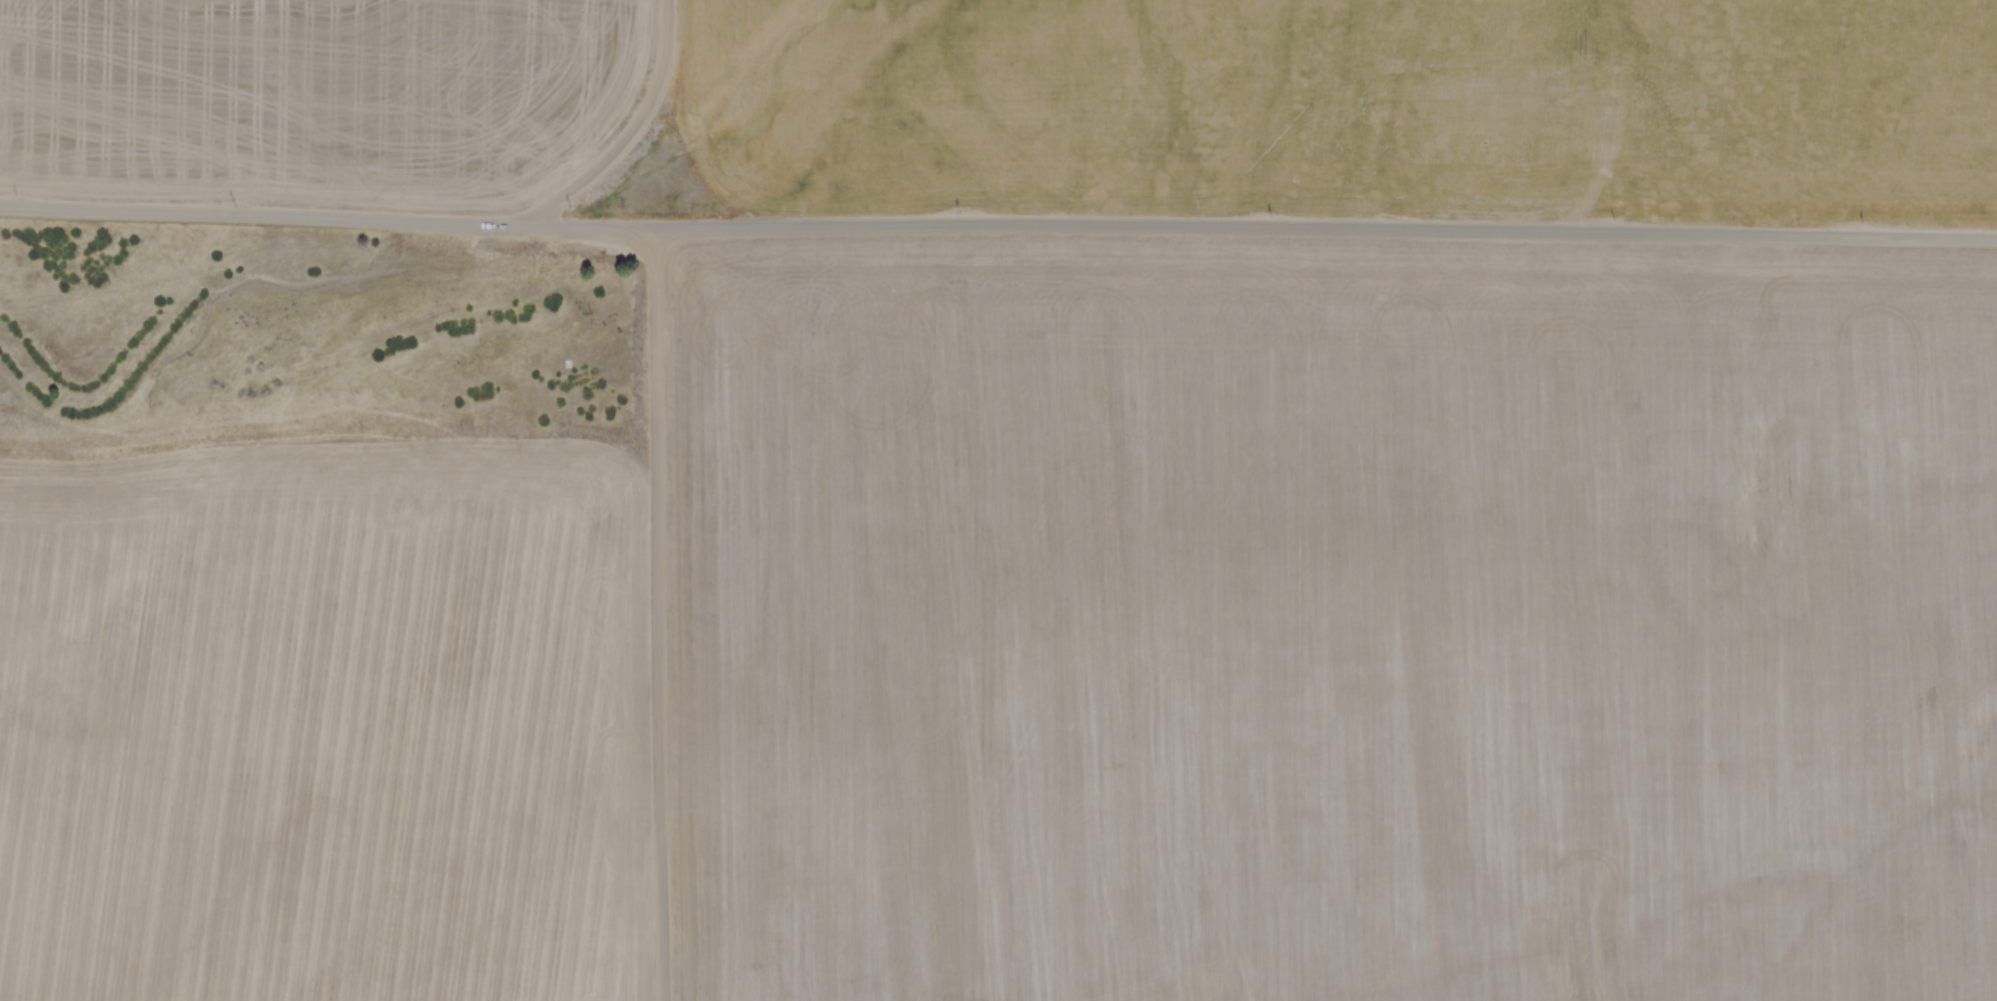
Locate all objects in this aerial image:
road: (627, 126)
road: (998, 221)
road: (648, 611)

